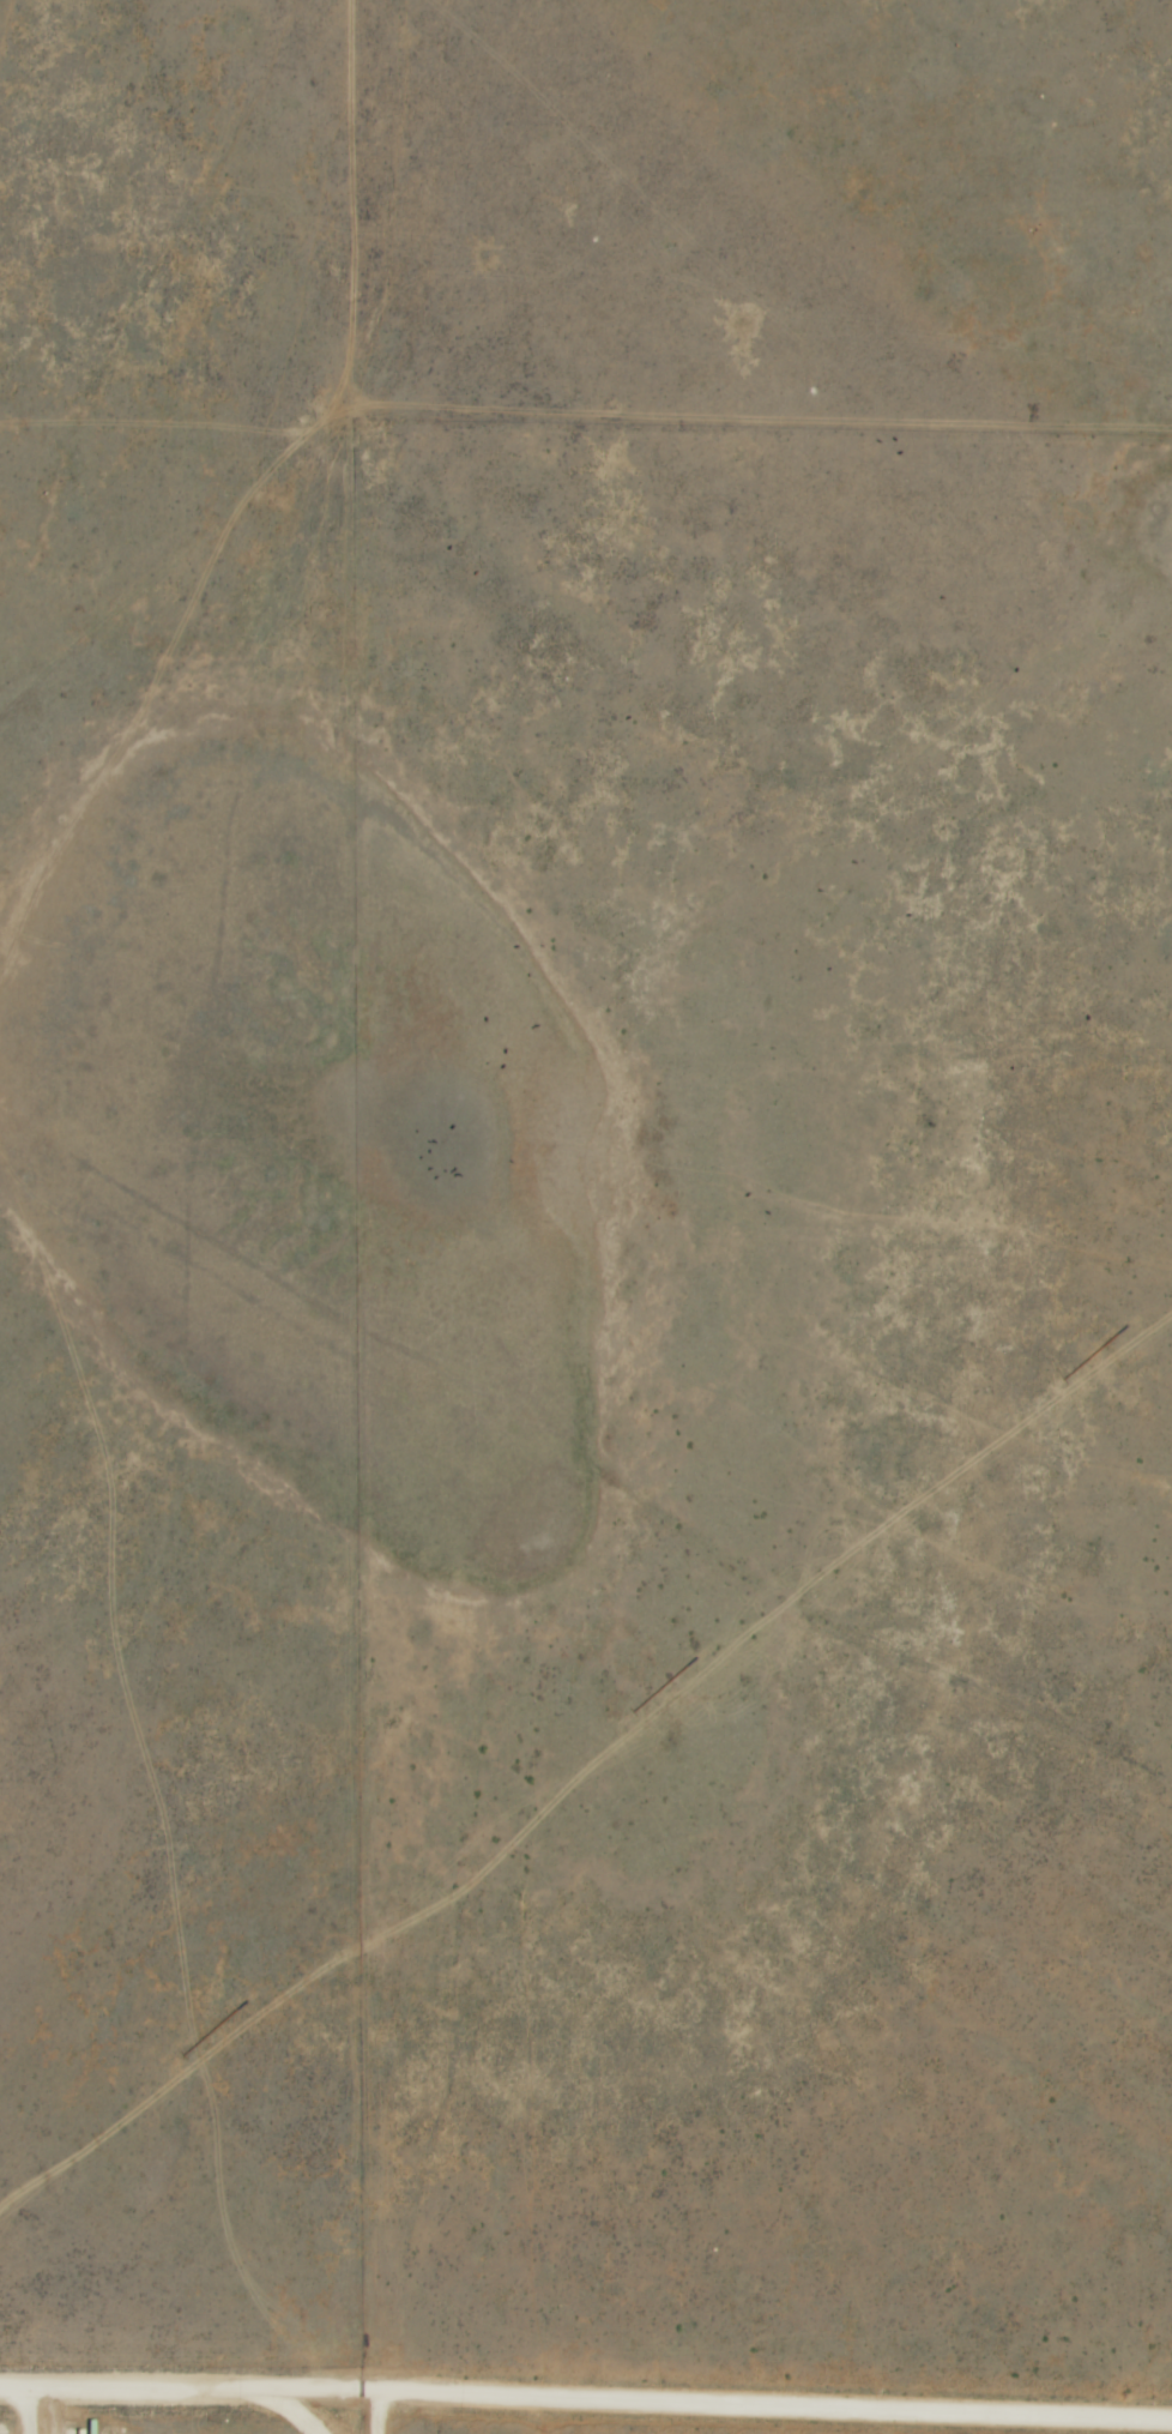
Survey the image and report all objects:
road: (586, 2404)

